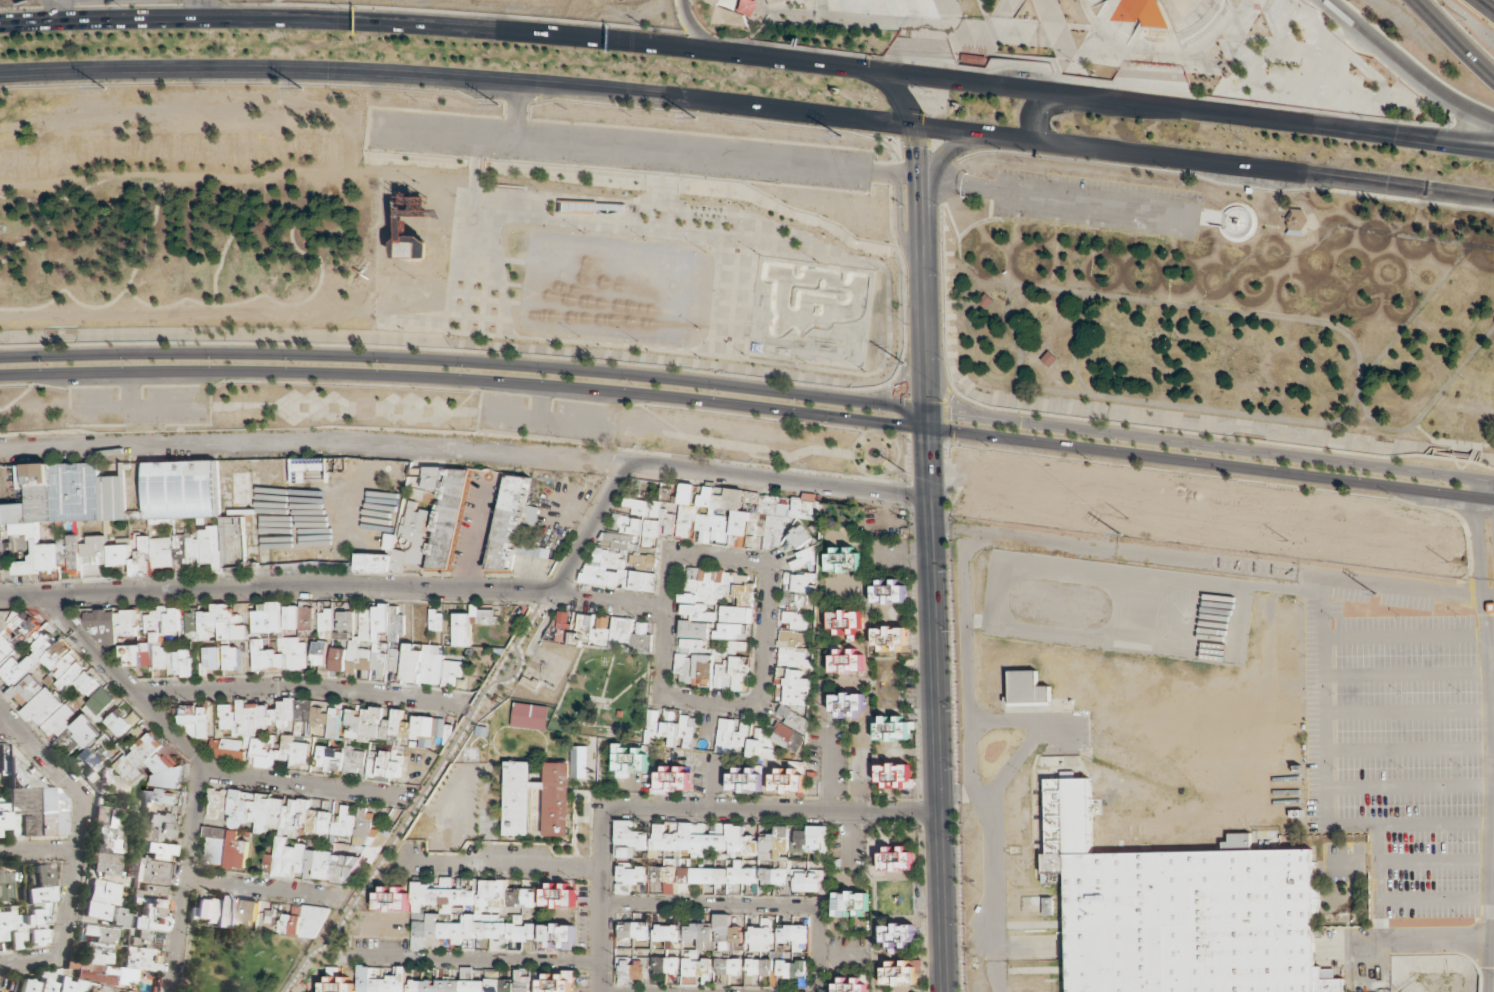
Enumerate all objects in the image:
park: (525, 1)
road: (1483, 7)
road: (687, 29)
road: (1448, 41)
park: (1103, 43)
road: (749, 57)
road: (1399, 71)
traffic signals: (872, 72)
road: (749, 107)
road: (1024, 113)
traffic signals: (912, 126)
parking lot: (613, 152)
road: (1489, 153)
parking lot: (1094, 197)
road: (1090, 201)
park: (182, 215)
road: (1198, 237)
road: (1324, 239)
building: (415, 244)
park: (1212, 305)
road: (1418, 319)
road: (1361, 391)
road: (1429, 416)
parking lot: (1044, 481)
road: (1492, 483)
road: (1479, 499)
park: (1201, 509)
building: (740, 520)
building: (844, 558)
building: (889, 590)
building: (891, 637)
park: (242, 960)

